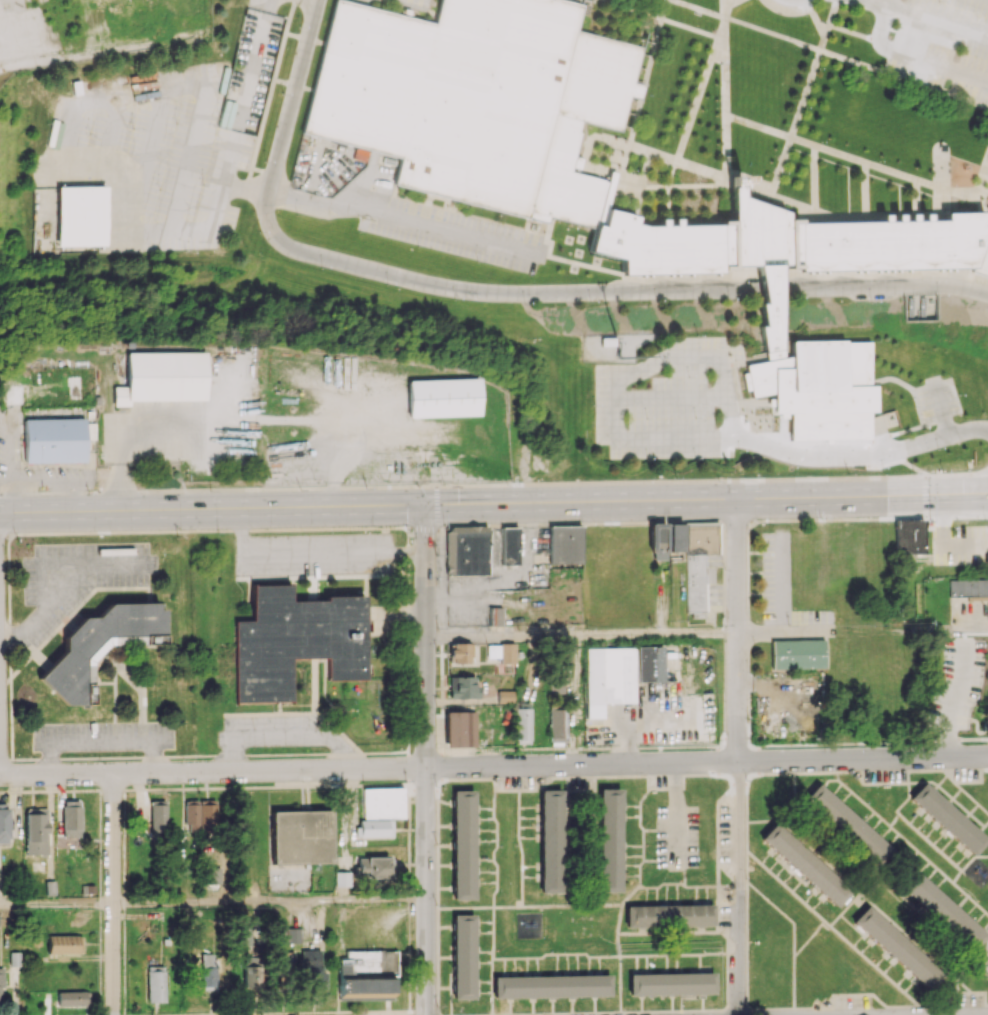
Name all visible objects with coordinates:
road: (931, 19)
road: (912, 56)
road: (292, 94)
building: (478, 100)
parking lot: (167, 142)
building: (81, 215)
road: (406, 218)
building: (786, 241)
building: (982, 252)
road: (417, 281)
road: (943, 283)
road: (777, 285)
road: (636, 288)
building: (770, 310)
building: (162, 377)
road: (622, 378)
building: (818, 388)
building: (441, 397)
road: (671, 399)
road: (941, 408)
road: (225, 417)
building: (54, 440)
road: (861, 454)
road: (829, 467)
road: (956, 475)
road: (924, 497)
traffic signals: (924, 497)
road: (706, 501)
road: (212, 511)
building: (909, 536)
building: (565, 544)
building: (509, 545)
building: (466, 550)
road: (312, 551)
building: (686, 553)
road: (780, 583)
building: (969, 588)
building: (494, 616)
road: (778, 629)
road: (737, 631)
road: (581, 635)
building: (296, 641)
building: (97, 647)
building: (459, 652)
building: (501, 652)
building: (797, 653)
building: (647, 664)
building: (607, 678)
building: (556, 686)
building: (463, 687)
building: (504, 696)
road: (953, 699)
building: (523, 724)
building: (557, 724)
building: (460, 728)
road: (284, 733)
road: (862, 759)
road: (425, 760)
road: (369, 768)
building: (379, 811)
building: (200, 814)
building: (157, 817)
building: (70, 818)
building: (948, 818)
building: (3, 823)
building: (847, 825)
building: (35, 831)
building: (301, 836)
building: (609, 840)
building: (551, 841)
building: (462, 844)
building: (804, 864)
building: (374, 867)
road: (741, 888)
road: (112, 893)
road: (269, 901)
road: (56, 904)
building: (941, 910)
building: (669, 915)
building: (292, 935)
building: (64, 944)
building: (896, 947)
building: (462, 956)
building: (287, 958)
building: (312, 970)
building: (207, 971)
building: (252, 972)
building: (367, 974)
building: (155, 983)
building: (670, 983)
building: (551, 986)
building: (1, 987)
building: (72, 998)

